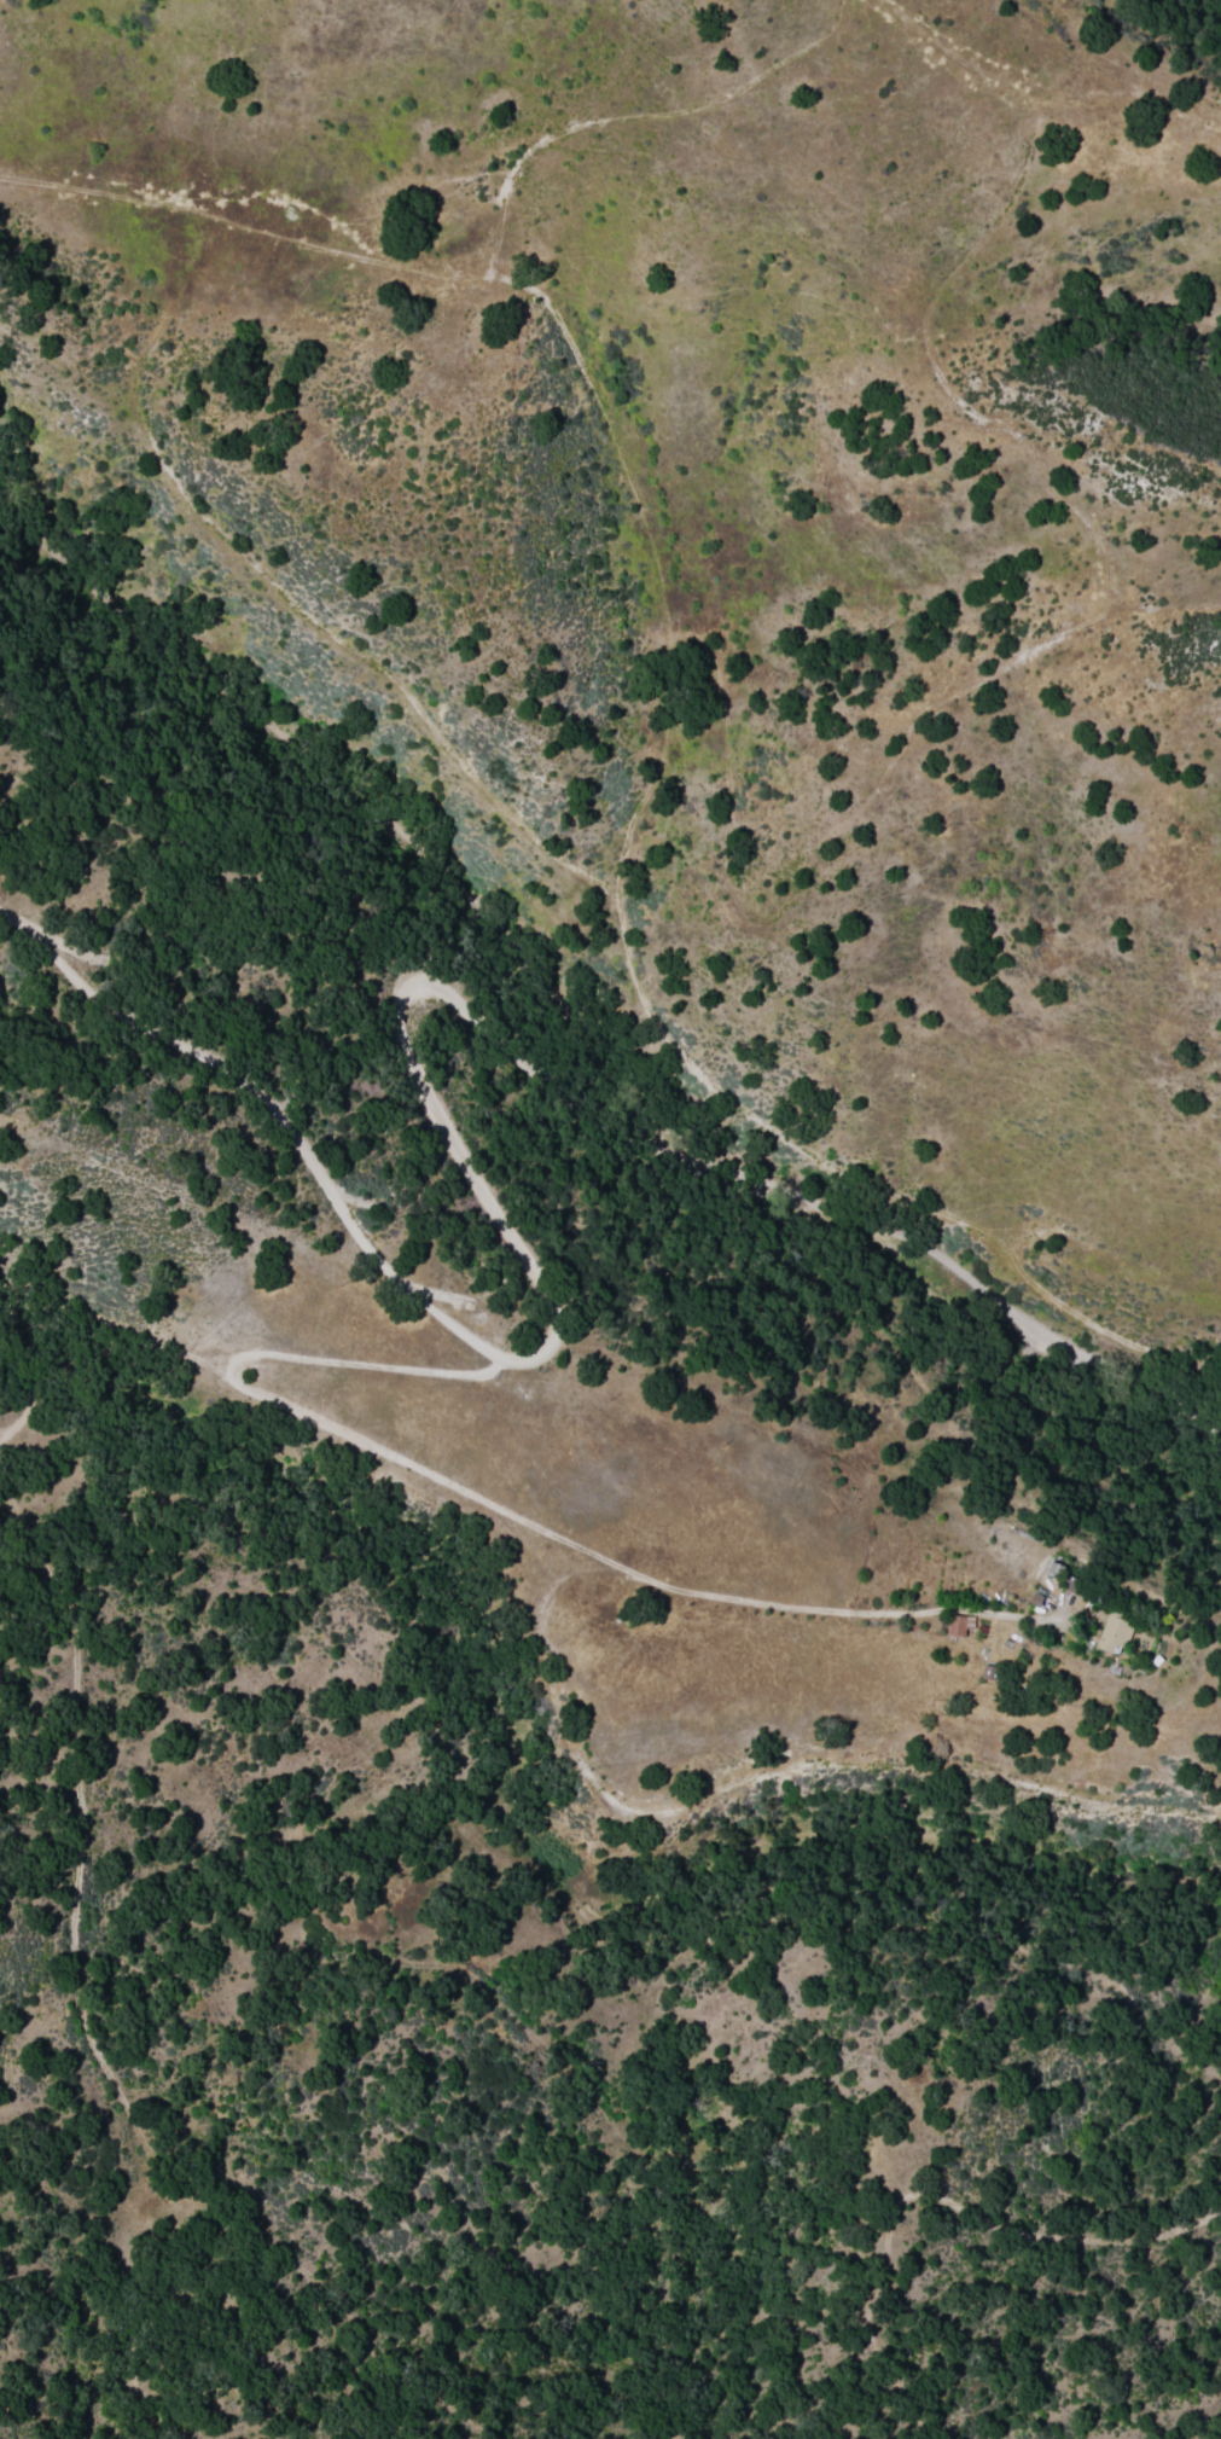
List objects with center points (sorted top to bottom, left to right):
road: (936, 294)
road: (558, 333)
road: (499, 818)
road: (264, 1119)
road: (599, 1127)
road: (100, 1323)
road: (343, 1358)
road: (1191, 1407)
road: (598, 1556)
building: (954, 1626)
building: (1109, 1637)
road: (752, 1769)
road: (68, 1973)
road: (937, 2202)

